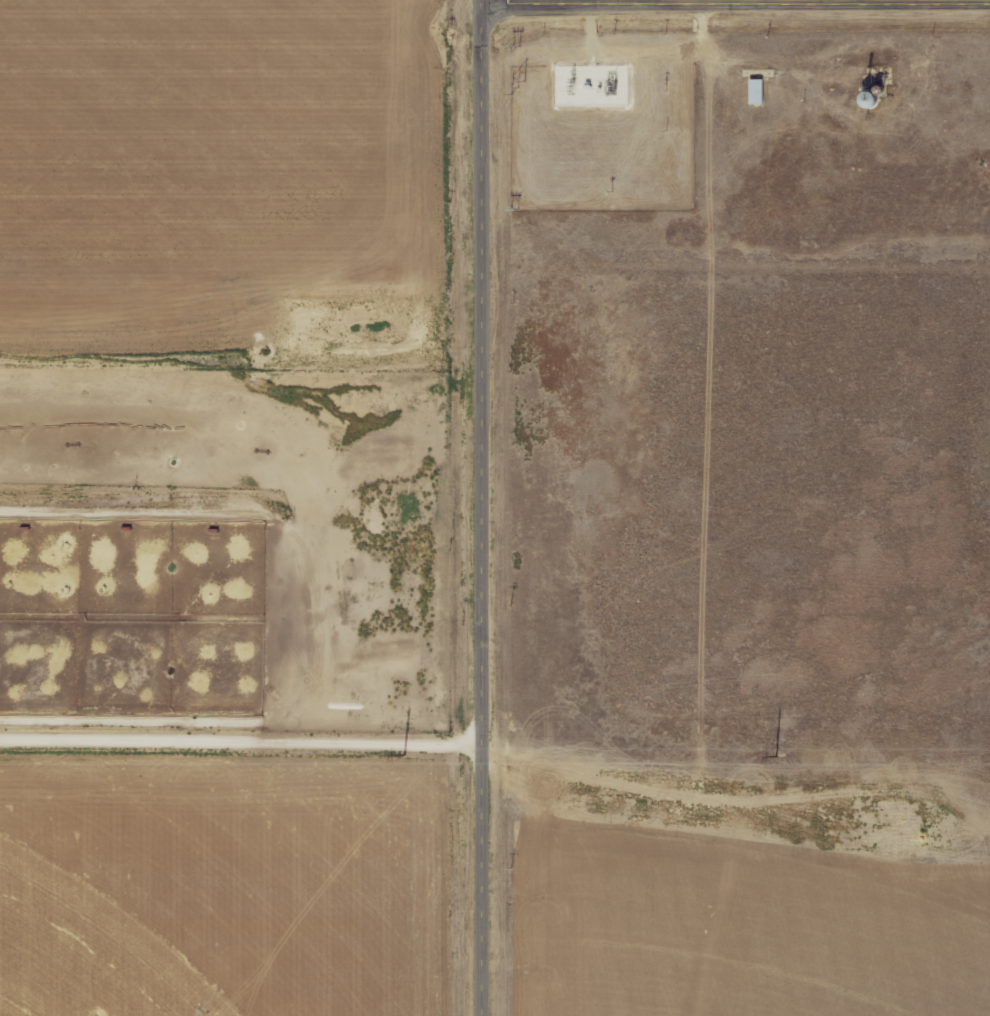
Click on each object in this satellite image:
road: (484, 1)
road: (737, 2)
building: (757, 92)
building: (872, 99)
road: (244, 411)
road: (489, 508)
road: (245, 739)

